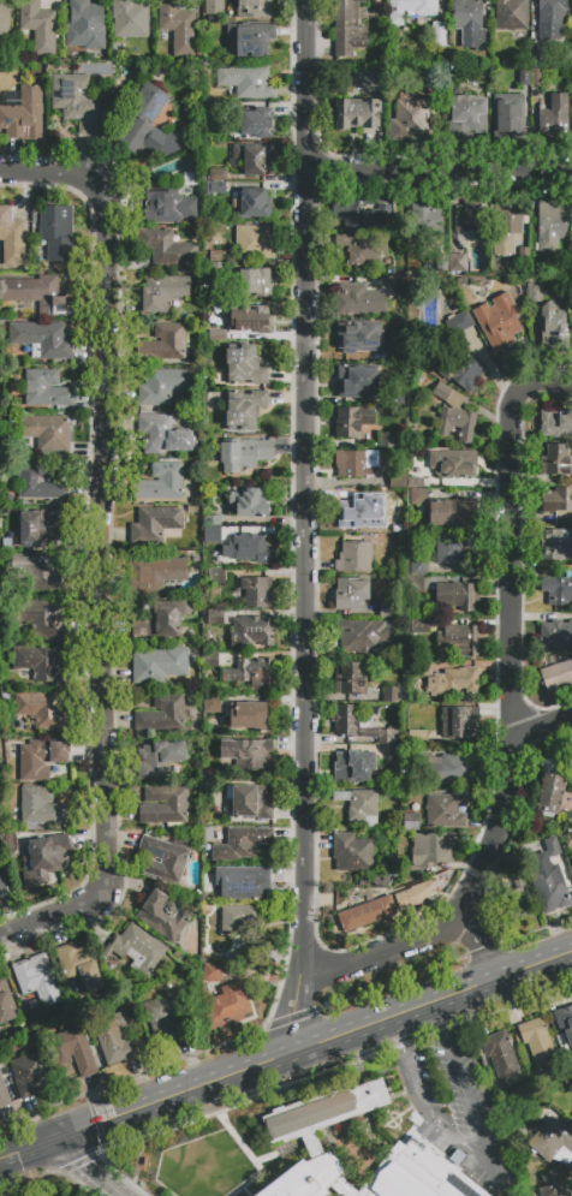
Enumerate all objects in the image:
building: (214, 7)
building: (257, 8)
building: (411, 8)
building: (552, 12)
building: (512, 14)
building: (4, 17)
building: (130, 18)
building: (470, 23)
building: (178, 24)
building: (38, 25)
building: (85, 26)
building: (347, 28)
building: (439, 35)
building: (251, 40)
building: (536, 53)
building: (352, 77)
building: (524, 77)
building: (536, 77)
building: (248, 82)
building: (76, 101)
building: (22, 114)
building: (357, 114)
building: (507, 115)
building: (466, 118)
building: (555, 118)
building: (409, 119)
building: (256, 124)
building: (149, 125)
road: (369, 150)
building: (255, 159)
street lamp: (287, 162)
road: (439, 168)
building: (218, 174)
building: (214, 188)
building: (168, 203)
building: (254, 203)
building: (362, 215)
building: (424, 215)
building: (470, 219)
building: (506, 226)
building: (550, 226)
building: (58, 233)
building: (14, 239)
building: (254, 243)
building: (167, 248)
building: (359, 251)
building: (524, 254)
building: (458, 263)
building: (443, 264)
building: (218, 269)
building: (256, 282)
building: (397, 285)
building: (534, 292)
building: (162, 293)
building: (38, 294)
building: (361, 299)
building: (499, 321)
building: (459, 322)
building: (248, 323)
building: (553, 326)
building: (350, 337)
building: (42, 339)
building: (163, 343)
building: (395, 355)
building: (245, 365)
building: (464, 373)
building: (219, 376)
street lamp: (513, 376)
building: (357, 382)
building: (162, 386)
building: (47, 389)
building: (216, 393)
building: (244, 410)
building: (454, 415)
building: (352, 422)
building: (555, 424)
building: (46, 432)
building: (165, 435)
building: (387, 440)
building: (244, 453)
building: (555, 460)
building: (356, 463)
building: (453, 464)
building: (41, 480)
building: (163, 482)
building: (397, 482)
building: (415, 482)
building: (418, 496)
building: (556, 500)
building: (250, 502)
building: (353, 508)
building: (192, 510)
building: (449, 512)
road: (284, 516)
building: (213, 518)
building: (155, 522)
road: (303, 528)
building: (42, 530)
building: (213, 535)
road: (101, 537)
building: (556, 545)
building: (248, 549)
building: (449, 552)
building: (354, 557)
road: (512, 559)
building: (418, 565)
building: (35, 572)
street lamp: (491, 573)
building: (154, 575)
building: (215, 576)
building: (413, 583)
building: (556, 590)
building: (257, 591)
building: (351, 593)
building: (458, 595)
building: (387, 609)
building: (42, 617)
building: (215, 617)
building: (160, 619)
building: (422, 625)
road: (501, 627)
building: (252, 632)
building: (362, 635)
building: (555, 635)
building: (460, 639)
building: (209, 659)
building: (40, 664)
building: (160, 664)
building: (423, 667)
building: (252, 673)
building: (556, 676)
building: (351, 679)
building: (454, 682)
building: (394, 694)
building: (213, 703)
street lamp: (537, 704)
building: (42, 709)
building: (163, 714)
building: (250, 716)
building: (460, 721)
building: (357, 726)
road: (536, 726)
building: (417, 737)
building: (248, 752)
building: (397, 754)
building: (41, 758)
building: (419, 758)
building: (159, 760)
building: (353, 767)
building: (453, 769)
building: (550, 795)
street lamp: (287, 802)
building: (251, 803)
building: (361, 805)
building: (165, 807)
building: (41, 808)
building: (446, 811)
road: (309, 813)
building: (411, 822)
building: (242, 843)
building: (553, 846)
building: (433, 849)
building: (352, 852)
building: (46, 858)
building: (165, 858)
road: (493, 871)
building: (380, 881)
building: (244, 882)
building: (2, 886)
building: (549, 889)
building: (415, 897)
building: (520, 902)
building: (370, 912)
building: (162, 915)
building: (240, 917)
street lamp: (330, 947)
building: (137, 948)
road: (380, 948)
road: (478, 950)
road: (469, 952)
building: (82, 965)
building: (213, 971)
building: (37, 980)
street lamp: (404, 983)
road: (379, 984)
building: (5, 1004)
building: (227, 1006)
road: (284, 1018)
building: (166, 1021)
road: (441, 1021)
building: (565, 1023)
road: (397, 1035)
building: (115, 1039)
building: (537, 1042)
building: (73, 1051)
road: (286, 1055)
building: (501, 1055)
building: (570, 1070)
building: (29, 1075)
street lamp: (291, 1083)
building: (4, 1094)
parking lot: (459, 1113)
road: (477, 1119)
road: (433, 1125)
building: (291, 1136)
traffic signals: (60, 1138)
building: (553, 1142)
road: (95, 1167)
road: (24, 1170)
building: (554, 1185)

